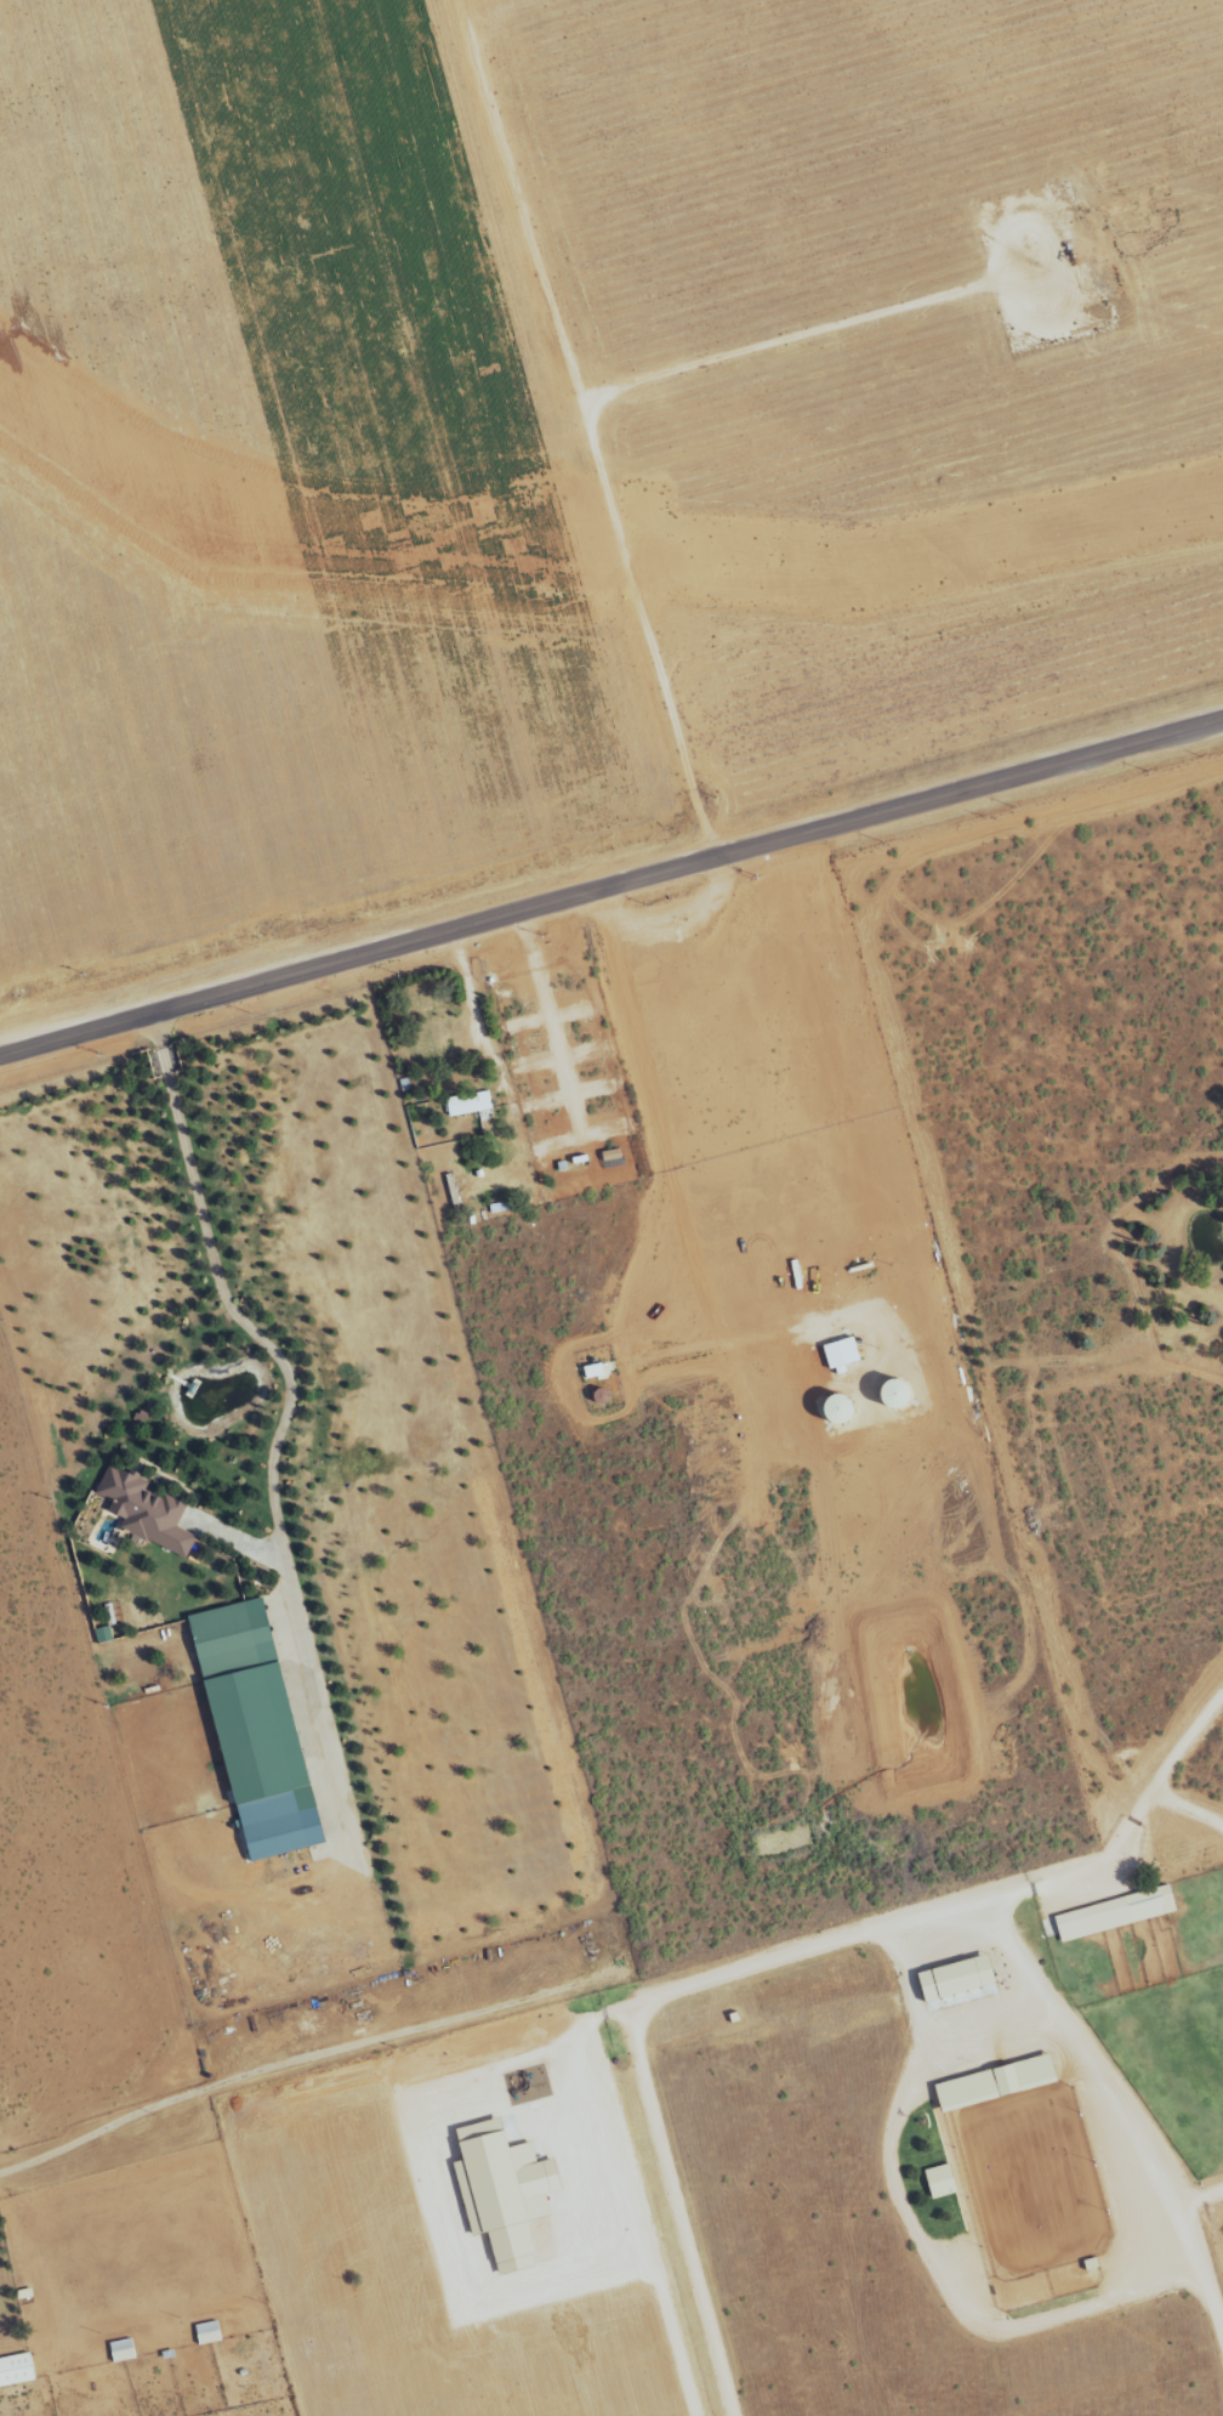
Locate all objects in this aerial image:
crop: (571, 464)
road: (614, 522)
road: (610, 889)
building: (470, 1105)
road: (232, 1309)
building: (147, 1513)
building: (257, 1730)
road: (1166, 1773)
building: (1116, 1915)
road: (772, 1958)
building: (957, 1979)
building: (942, 2182)
building: (505, 2193)
road: (633, 2199)
road: (1204, 2204)
road: (1204, 2274)
building: (209, 2333)
building: (124, 2352)
building: (16, 2371)

